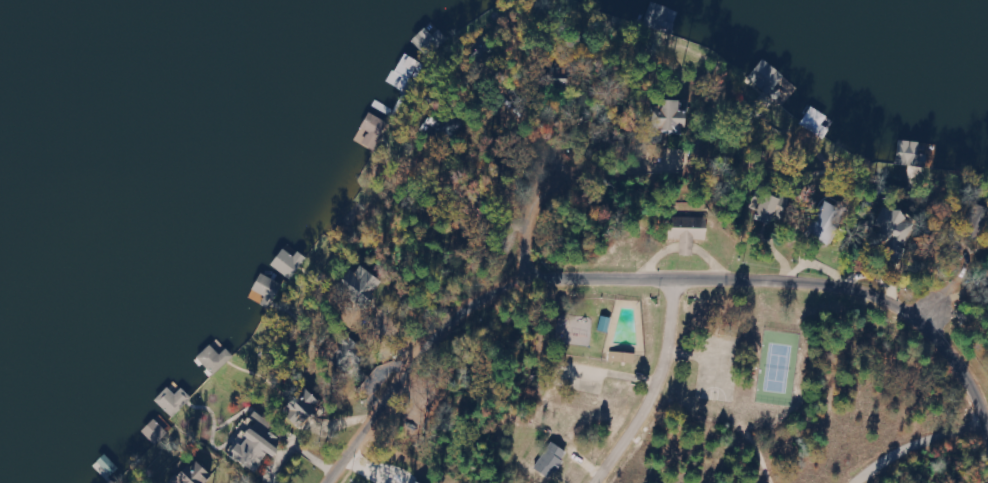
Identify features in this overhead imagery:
building: (655, 14)
building: (406, 74)
building: (672, 118)
building: (817, 123)
building: (373, 132)
building: (914, 155)
road: (625, 181)
building: (771, 209)
road: (817, 223)
building: (897, 223)
building: (830, 224)
building: (689, 234)
building: (290, 264)
road: (642, 275)
building: (266, 291)
building: (349, 357)
building: (623, 358)
building: (216, 360)
road: (689, 383)
building: (174, 401)
building: (304, 411)
building: (156, 433)
building: (256, 451)
road: (943, 460)
building: (553, 461)
building: (200, 475)

